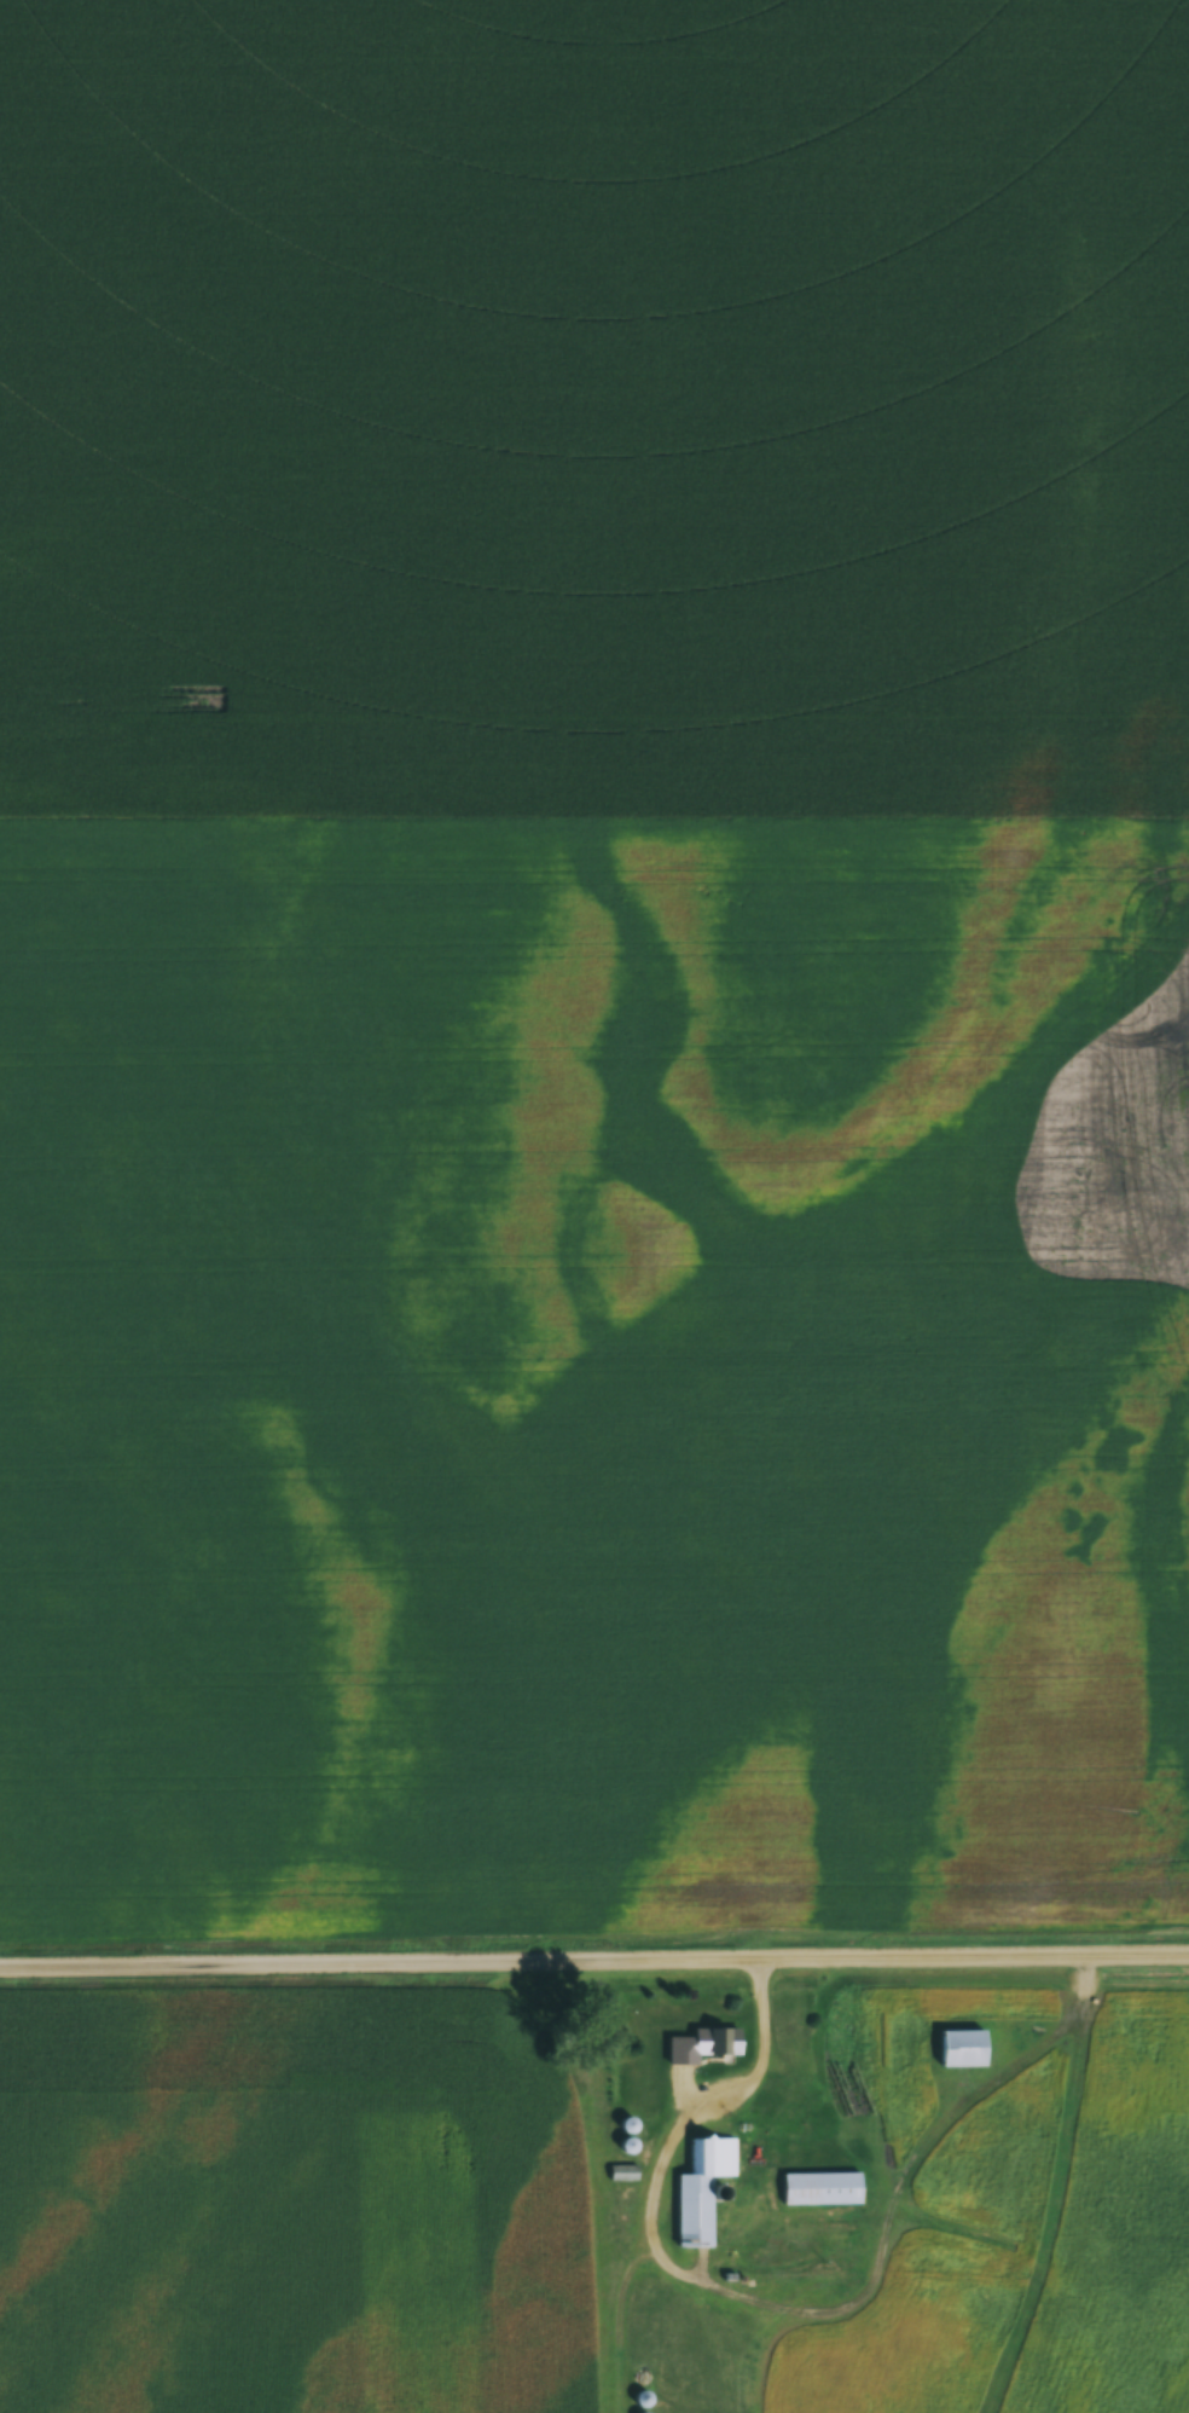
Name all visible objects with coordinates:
road: (594, 1961)
building: (721, 2039)
building: (961, 2047)
building: (810, 2119)
building: (621, 2171)
building: (700, 2186)
building: (819, 2187)
building: (640, 2398)

